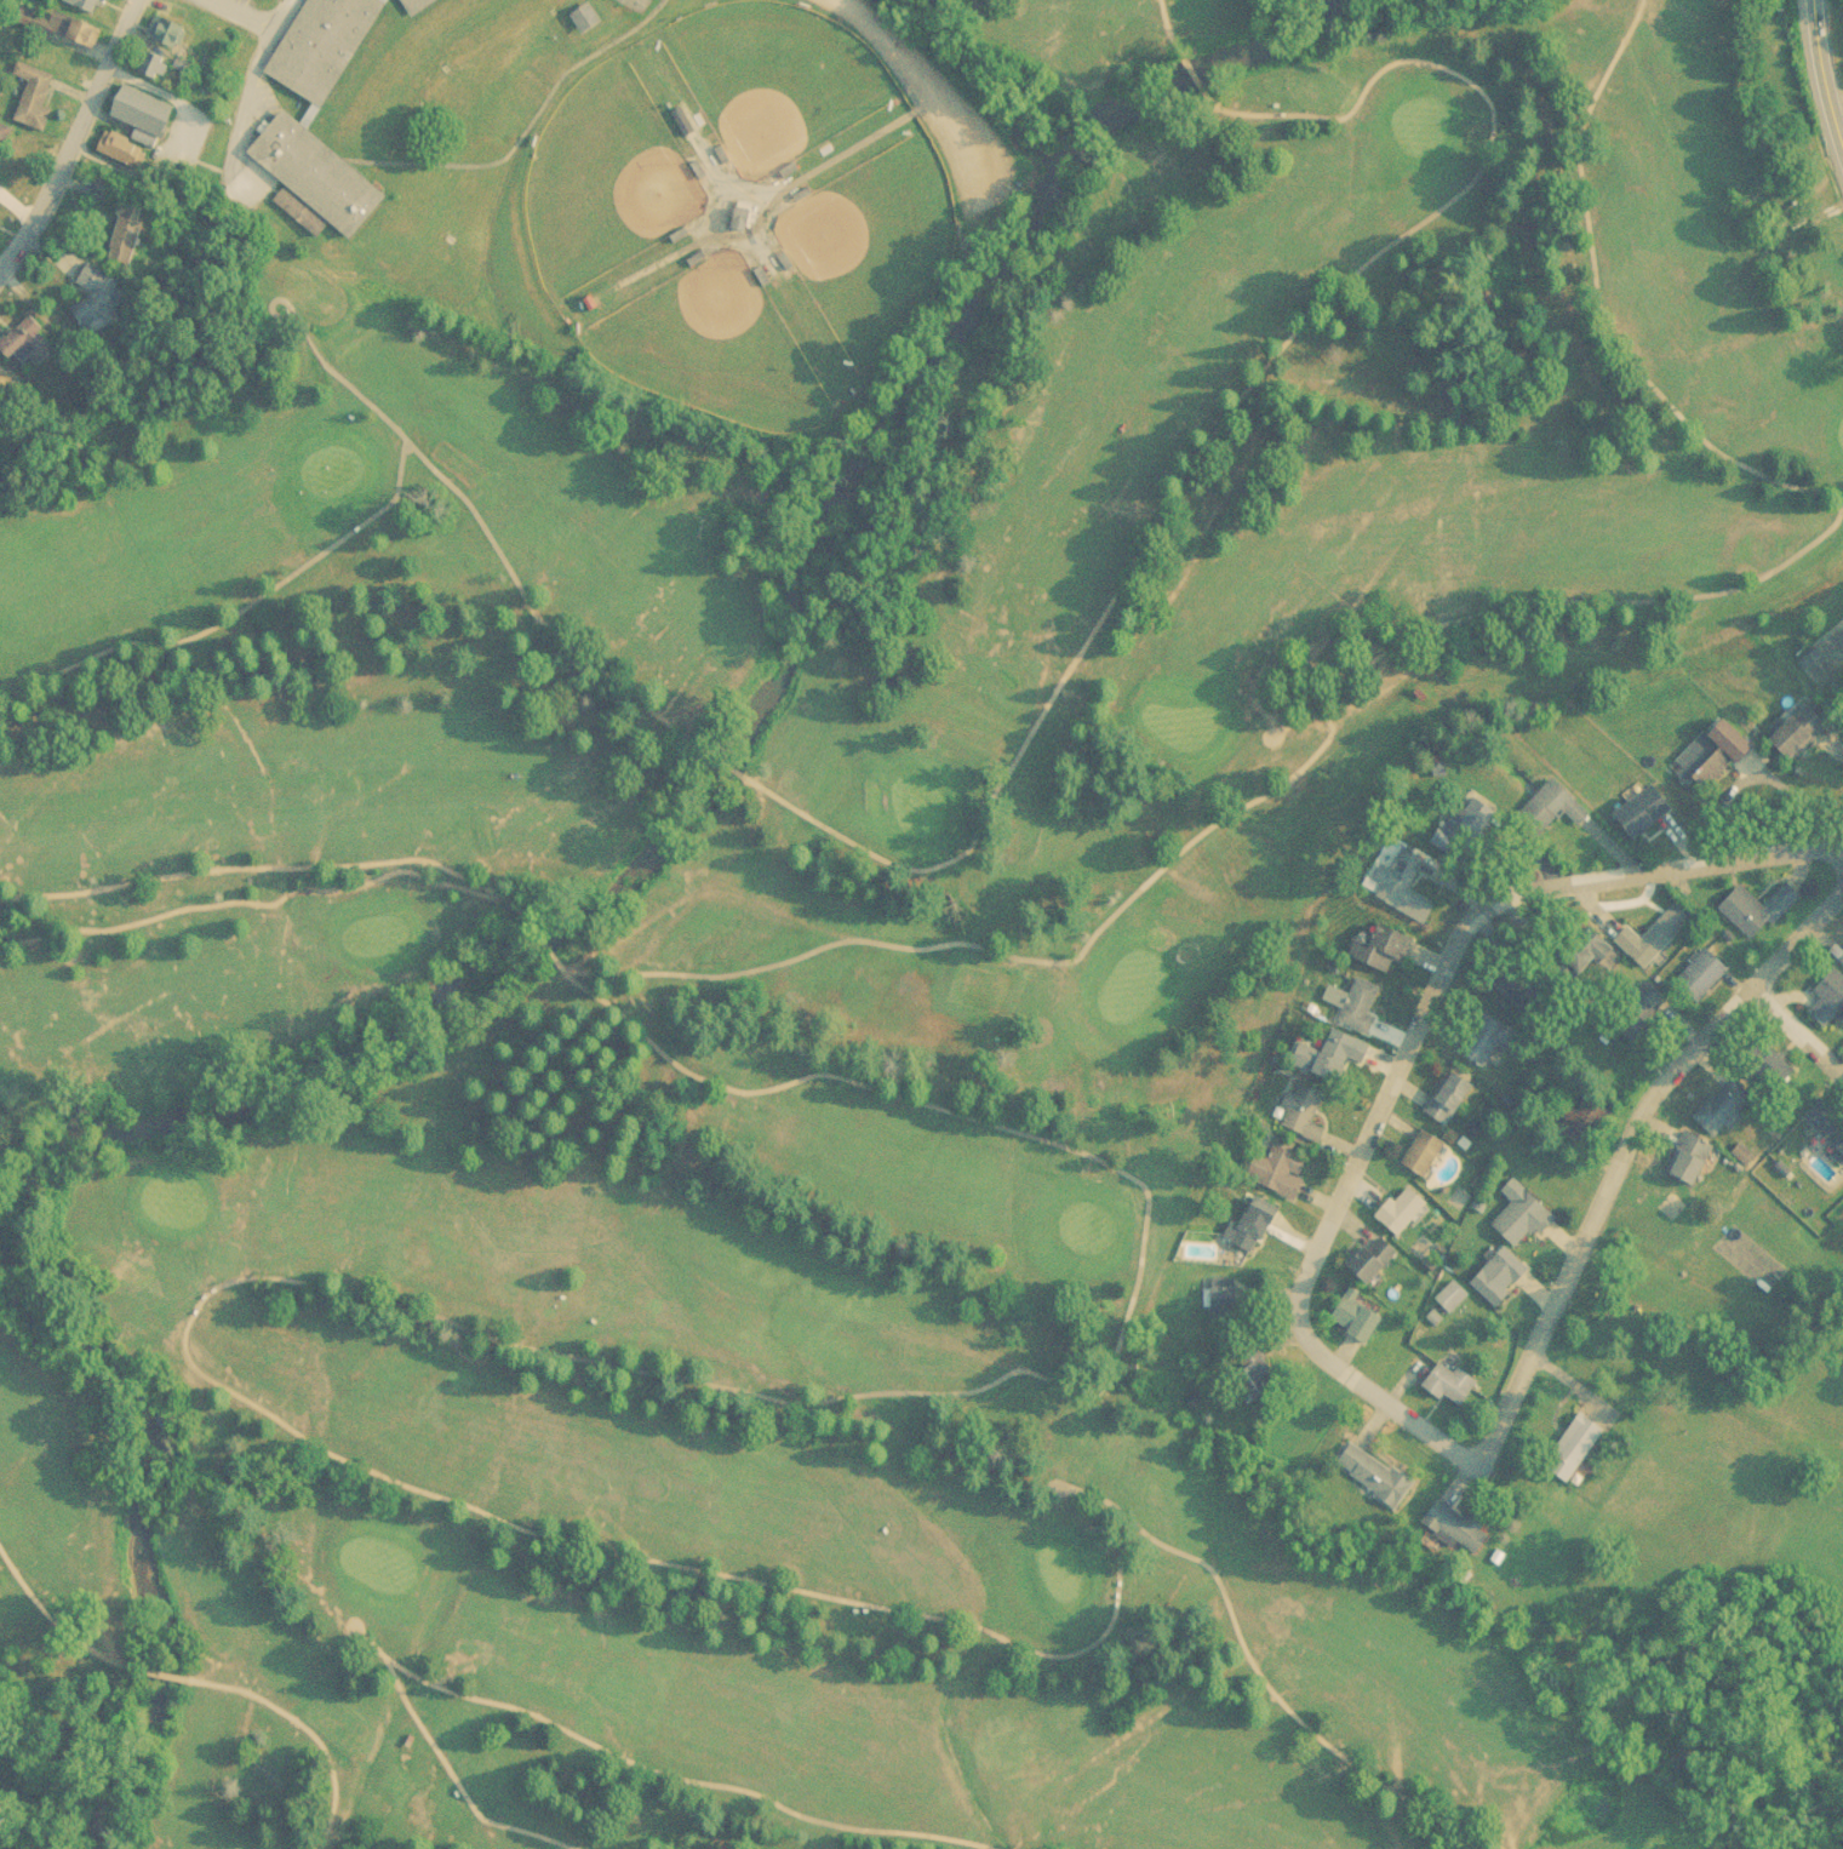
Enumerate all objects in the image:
building: (275, 0)
building: (87, 7)
building: (420, 7)
road: (248, 13)
building: (589, 25)
building: (67, 34)
building: (171, 36)
road: (1171, 40)
building: (327, 50)
building: (71, 68)
building: (158, 69)
park: (775, 74)
road: (1821, 78)
road: (928, 82)
road: (247, 95)
road: (1207, 95)
building: (36, 105)
building: (147, 118)
building: (1, 131)
road: (74, 139)
building: (126, 156)
park: (605, 171)
building: (319, 185)
building: (743, 213)
building: (746, 222)
building: (128, 240)
park: (875, 242)
road: (270, 302)
building: (102, 307)
park: (715, 345)
building: (30, 350)
road: (1217, 427)
road: (302, 565)
road: (530, 608)
road: (1446, 620)
building: (1799, 729)
road: (719, 760)
building: (1706, 763)
building: (1642, 812)
building: (1467, 837)
building: (1407, 894)
road: (509, 900)
building: (1756, 908)
road: (534, 933)
building: (1652, 934)
road: (1798, 934)
road: (1458, 938)
building: (1389, 956)
building: (1842, 961)
park: (829, 968)
building: (1700, 973)
building: (1828, 997)
building: (1362, 1014)
building: (1637, 1014)
road: (1798, 1025)
building: (1492, 1046)
building: (1345, 1061)
building: (1772, 1069)
building: (1725, 1103)
building: (1452, 1105)
building: (1584, 1116)
building: (1304, 1118)
building: (1427, 1160)
building: (1286, 1175)
road: (1593, 1210)
building: (1406, 1217)
building: (1526, 1225)
building: (1255, 1229)
building: (1374, 1267)
building: (1500, 1287)
building: (1454, 1303)
building: (1224, 1310)
road: (430, 1316)
building: (1361, 1324)
building: (1255, 1383)
building: (1454, 1391)
road: (1383, 1395)
building: (1574, 1446)
building: (1378, 1482)
building: (1461, 1535)
road: (45, 1613)
road: (344, 1619)
road: (131, 1666)
road: (1290, 1712)
road: (292, 1718)
road: (666, 1774)
road: (456, 1781)

